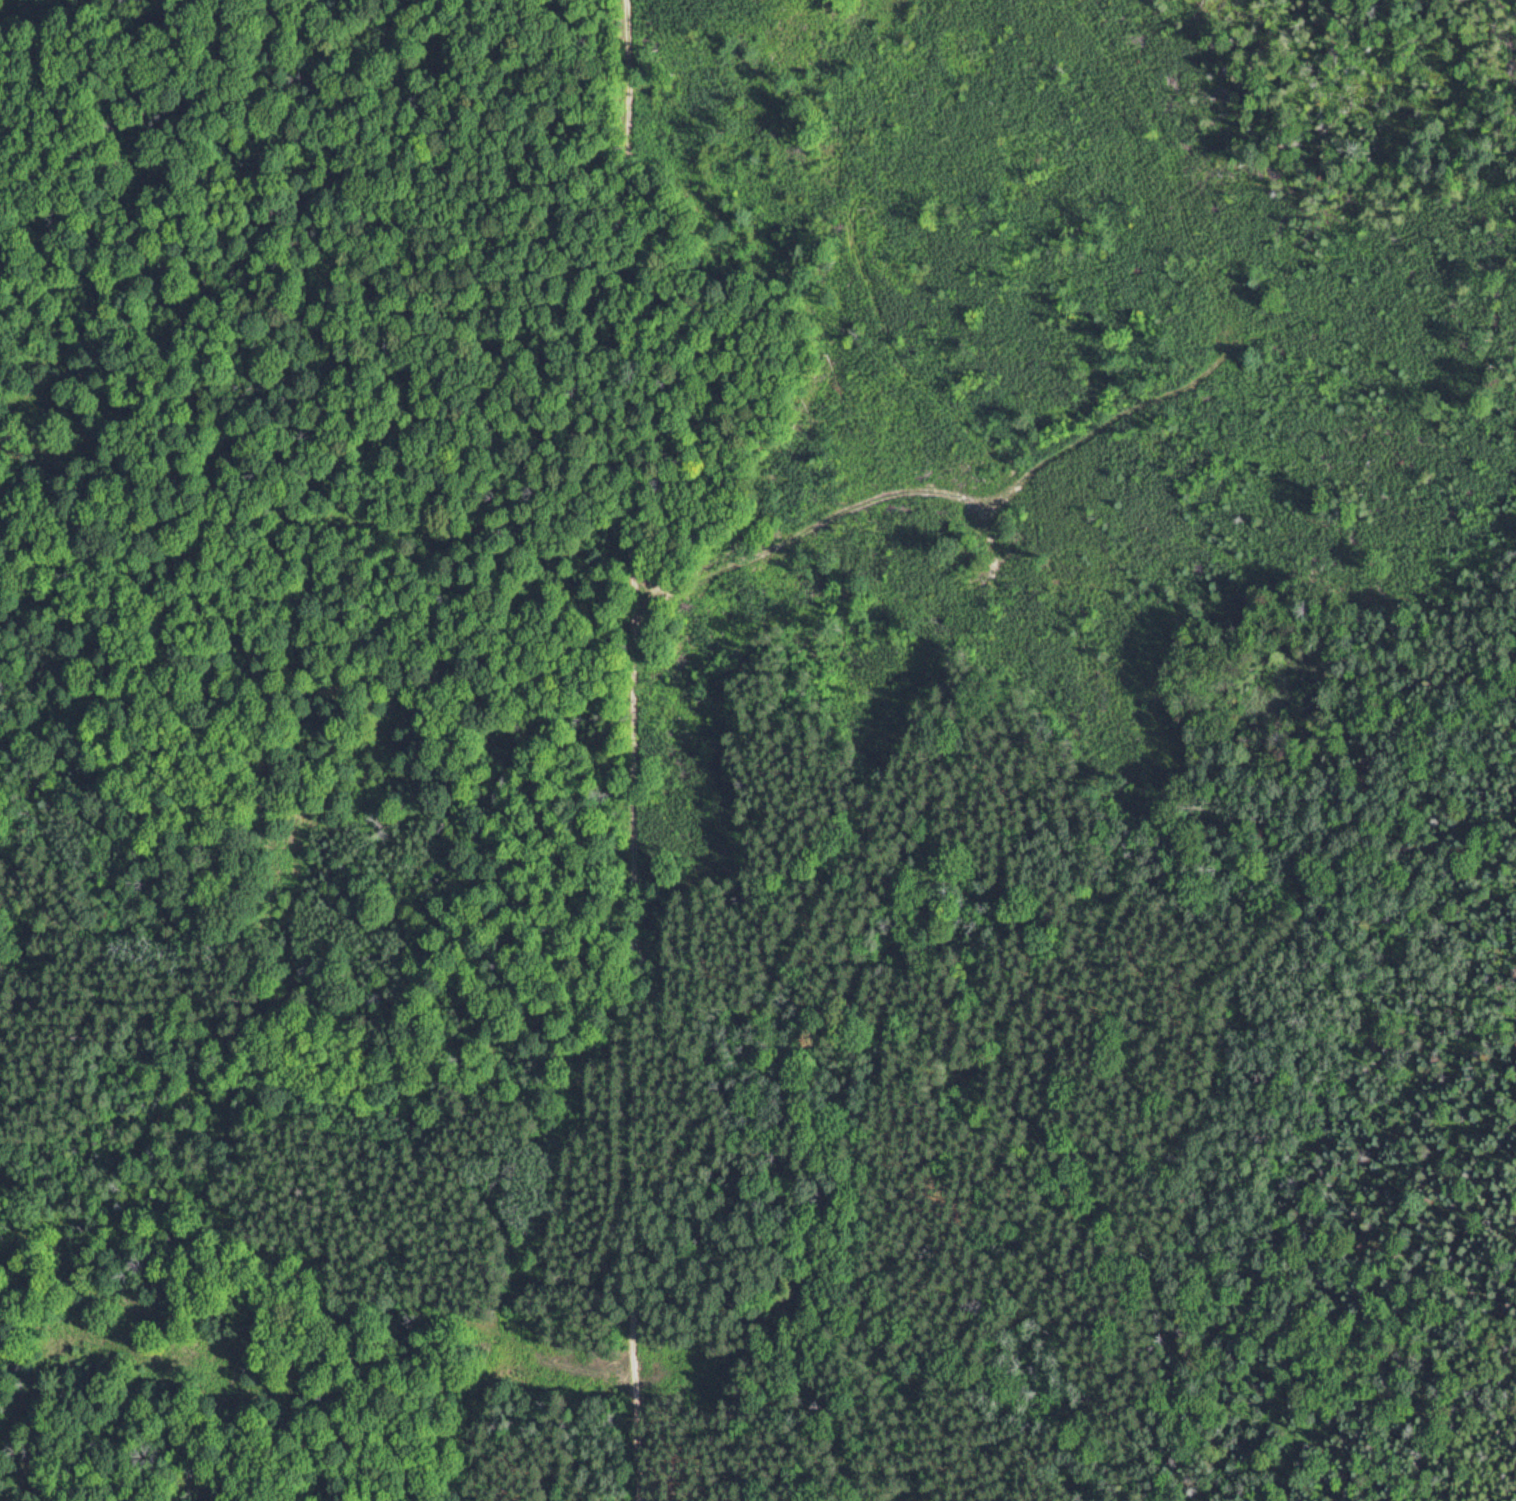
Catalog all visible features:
road: (626, 750)

